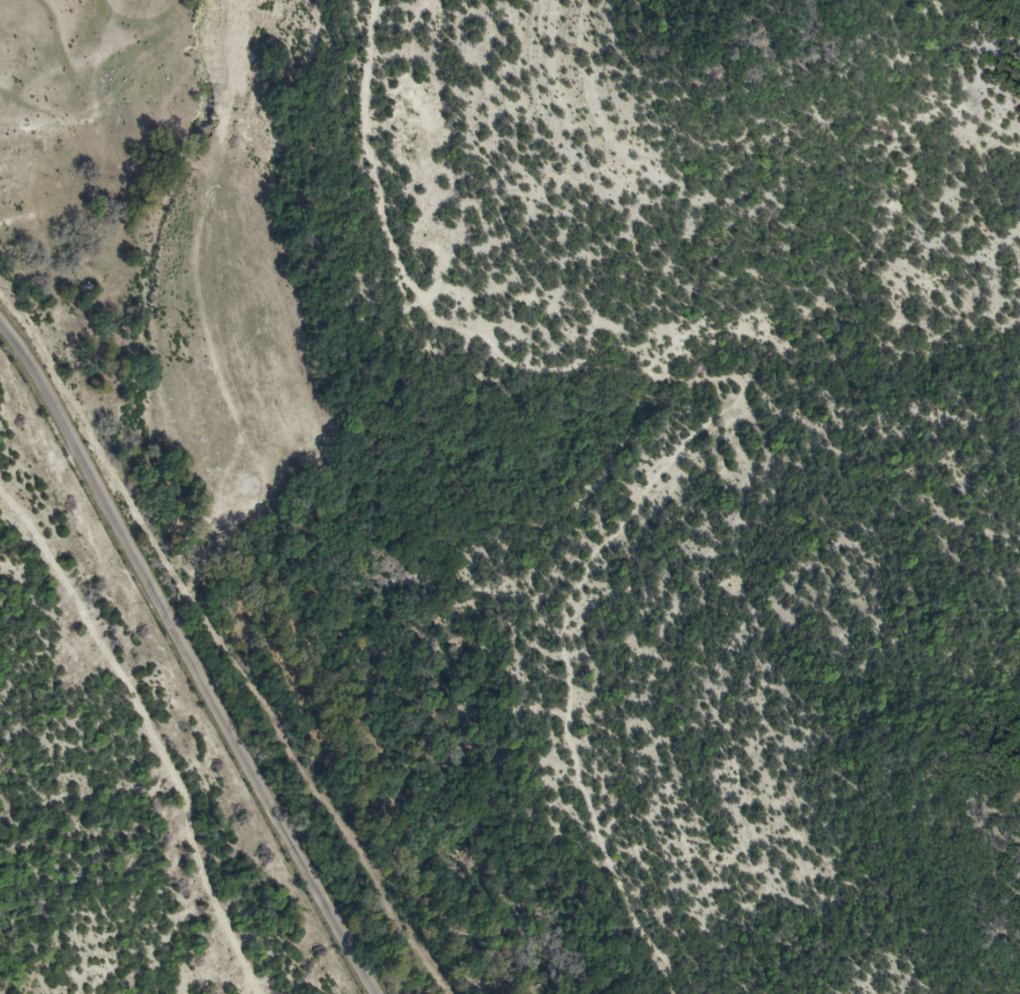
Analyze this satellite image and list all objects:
road: (189, 656)

